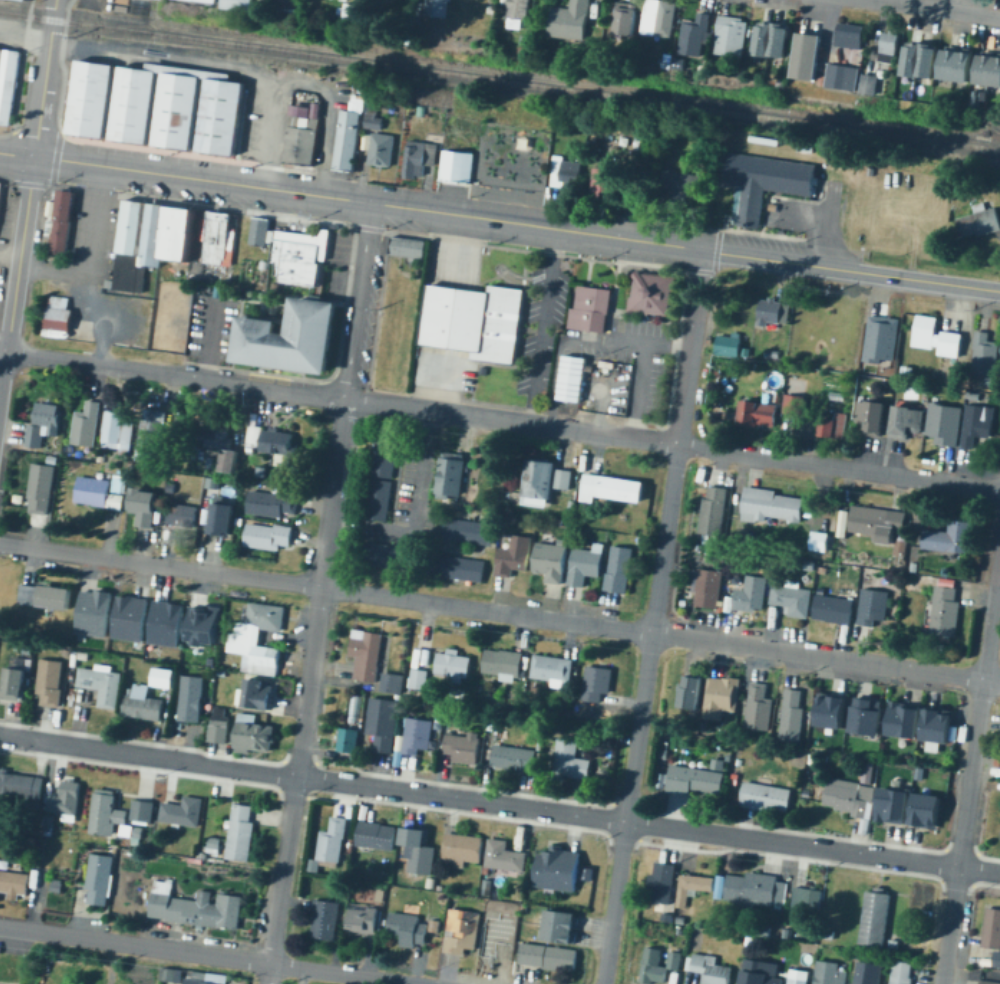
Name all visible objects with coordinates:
building: (24, 0)
building: (218, 0)
building: (224, 0)
road: (137, 1)
building: (506, 1)
building: (243, 4)
parking lot: (120, 5)
building: (111, 8)
building: (441, 8)
building: (493, 8)
road: (941, 8)
building: (135, 9)
building: (354, 12)
building: (519, 12)
building: (627, 18)
building: (660, 18)
building: (570, 20)
building: (602, 24)
building: (695, 35)
building: (731, 35)
building: (851, 37)
road: (25, 39)
building: (525, 39)
building: (772, 41)
building: (524, 49)
building: (889, 49)
building: (810, 55)
building: (920, 59)
building: (668, 60)
road: (218, 64)
building: (956, 65)
building: (989, 69)
building: (842, 75)
road: (46, 78)
building: (823, 79)
railway: (500, 81)
building: (872, 83)
building: (8, 84)
building: (911, 95)
building: (981, 98)
building: (92, 99)
building: (179, 107)
building: (422, 111)
road: (329, 116)
building: (375, 121)
building: (302, 140)
building: (348, 140)
building: (382, 150)
road: (18, 154)
building: (419, 158)
building: (457, 166)
building: (870, 171)
building: (564, 172)
road: (204, 179)
building: (608, 182)
building: (768, 183)
building: (685, 185)
building: (828, 185)
building: (1, 192)
road: (831, 200)
building: (772, 206)
building: (52, 208)
road: (822, 218)
building: (979, 222)
building: (63, 224)
road: (540, 226)
parking lot: (799, 227)
building: (261, 229)
parking lot: (8, 230)
building: (219, 239)
building: (151, 240)
building: (408, 247)
parking lot: (341, 249)
road: (351, 250)
road: (89, 253)
road: (21, 254)
road: (10, 259)
building: (299, 259)
parking lot: (456, 261)
building: (264, 264)
building: (169, 268)
road: (853, 270)
building: (211, 278)
parking lot: (98, 279)
parking lot: (338, 284)
road: (349, 285)
building: (275, 286)
building: (220, 291)
building: (653, 294)
road: (361, 301)
building: (591, 308)
building: (62, 313)
building: (775, 313)
road: (107, 316)
building: (478, 318)
road: (544, 326)
road: (167, 327)
parking lot: (212, 327)
parking lot: (544, 328)
building: (884, 336)
building: (289, 337)
building: (936, 338)
road: (212, 339)
road: (564, 340)
building: (727, 345)
road: (4, 351)
building: (745, 351)
building: (769, 352)
building: (986, 355)
parking lot: (629, 357)
road: (94, 363)
parking lot: (445, 369)
road: (647, 369)
building: (875, 369)
building: (880, 369)
building: (890, 371)
building: (573, 378)
road: (4, 382)
building: (885, 383)
road: (264, 387)
parking lot: (609, 387)
building: (835, 395)
road: (605, 400)
building: (829, 402)
building: (795, 404)
building: (758, 415)
building: (871, 415)
road: (514, 421)
building: (906, 421)
building: (943, 423)
building: (44, 424)
building: (974, 425)
building: (86, 426)
building: (832, 427)
building: (169, 428)
building: (120, 429)
building: (219, 434)
building: (150, 439)
building: (272, 443)
building: (385, 456)
building: (53, 459)
building: (102, 459)
building: (227, 460)
building: (210, 462)
building: (163, 464)
road: (840, 467)
building: (261, 471)
building: (451, 476)
building: (546, 481)
building: (121, 483)
building: (214, 483)
building: (172, 487)
building: (42, 488)
parking lot: (418, 488)
building: (610, 488)
road: (335, 492)
building: (98, 493)
building: (466, 494)
building: (379, 500)
building: (273, 503)
building: (574, 504)
building: (770, 505)
building: (146, 506)
road: (413, 510)
building: (714, 510)
building: (181, 515)
building: (224, 517)
building: (240, 521)
building: (876, 521)
building: (841, 522)
building: (468, 531)
building: (267, 535)
building: (950, 538)
building: (641, 540)
building: (819, 541)
building: (900, 544)
building: (698, 547)
building: (391, 556)
building: (516, 556)
building: (550, 562)
building: (585, 565)
building: (807, 565)
building: (913, 566)
building: (455, 567)
building: (619, 569)
building: (821, 569)
building: (688, 572)
building: (805, 578)
building: (735, 579)
building: (709, 588)
building: (750, 594)
building: (27, 595)
building: (54, 597)
building: (792, 600)
building: (681, 602)
building: (873, 606)
building: (833, 609)
road: (500, 610)
building: (97, 612)
building: (944, 612)
road: (656, 616)
building: (133, 618)
building: (168, 623)
building: (205, 624)
road: (993, 632)
building: (243, 635)
building: (28, 649)
building: (67, 652)
building: (367, 653)
building: (84, 655)
building: (213, 661)
building: (504, 663)
building: (453, 664)
building: (551, 670)
building: (222, 673)
building: (162, 674)
building: (419, 679)
building: (392, 680)
building: (50, 681)
building: (14, 684)
building: (102, 684)
building: (597, 684)
building: (143, 689)
building: (131, 691)
building: (691, 691)
building: (570, 692)
building: (459, 693)
building: (257, 694)
building: (721, 697)
building: (191, 699)
building: (144, 707)
building: (759, 707)
building: (826, 710)
building: (792, 716)
building: (862, 716)
building: (900, 719)
building: (383, 723)
building: (933, 724)
building: (218, 725)
building: (439, 725)
building: (702, 726)
building: (494, 727)
building: (828, 730)
building: (951, 733)
building: (253, 734)
building: (417, 736)
building: (349, 741)
building: (436, 744)
building: (541, 746)
building: (462, 747)
building: (951, 747)
building: (399, 750)
building: (662, 753)
building: (726, 757)
building: (998, 757)
building: (516, 758)
building: (569, 760)
building: (716, 763)
building: (868, 771)
building: (692, 779)
building: (733, 779)
building: (660, 780)
building: (894, 783)
road: (297, 785)
building: (21, 787)
building: (845, 795)
building: (766, 797)
building: (67, 801)
building: (887, 804)
road: (499, 805)
building: (923, 810)
building: (183, 811)
building: (143, 812)
building: (107, 813)
building: (50, 822)
building: (863, 825)
building: (134, 831)
road: (966, 832)
building: (241, 834)
building: (376, 836)
building: (332, 843)
building: (213, 845)
building: (463, 849)
building: (420, 851)
building: (503, 856)
building: (196, 860)
building: (311, 862)
building: (6, 865)
building: (558, 869)
building: (589, 874)
building: (100, 878)
building: (14, 883)
building: (663, 883)
building: (429, 884)
building: (694, 885)
building: (56, 886)
building: (487, 887)
building: (440, 888)
building: (754, 890)
building: (379, 895)
building: (807, 898)
building: (525, 906)
building: (196, 908)
building: (510, 910)
building: (665, 917)
building: (877, 917)
building: (325, 919)
building: (364, 919)
building: (679, 919)
building: (434, 926)
building: (560, 926)
building: (407, 928)
building: (993, 928)
building: (462, 930)
building: (761, 930)
building: (678, 932)
building: (785, 933)
building: (828, 934)
building: (748, 941)
building: (892, 944)
road: (207, 955)
building: (550, 956)
building: (997, 959)
building: (674, 960)
park: (11, 961)
building: (653, 968)
building: (710, 970)
building: (903, 972)
building: (830, 973)
building: (869, 973)
building: (171, 975)
building: (759, 976)
building: (206, 977)
building: (798, 981)
building: (989, 982)

